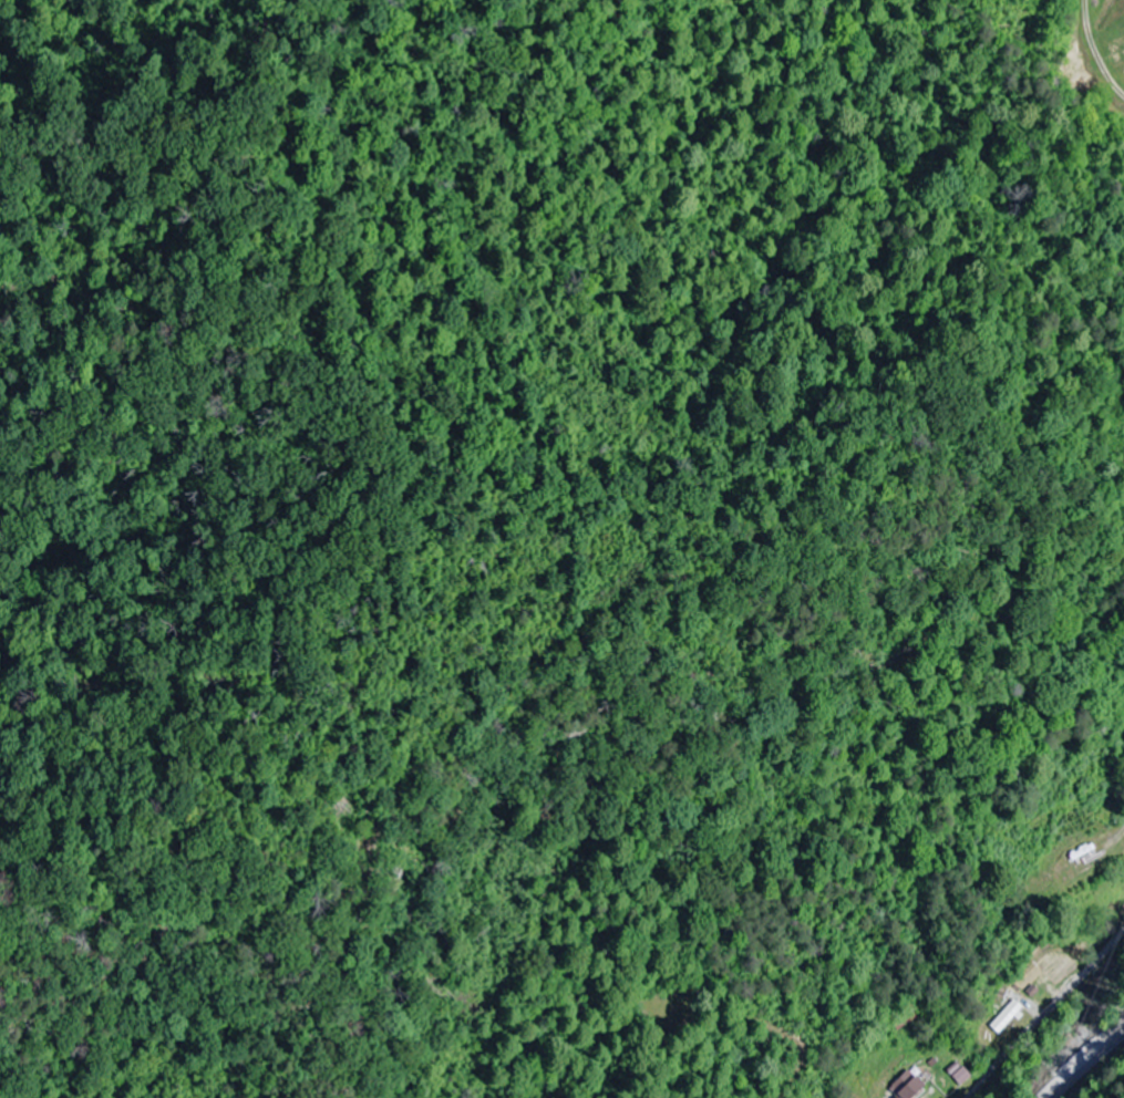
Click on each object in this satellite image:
road: (1112, 105)
building: (1085, 860)
building: (1046, 968)
road: (1076, 982)
building: (905, 1015)
road: (996, 1061)
road: (1089, 1065)
building: (909, 1086)

